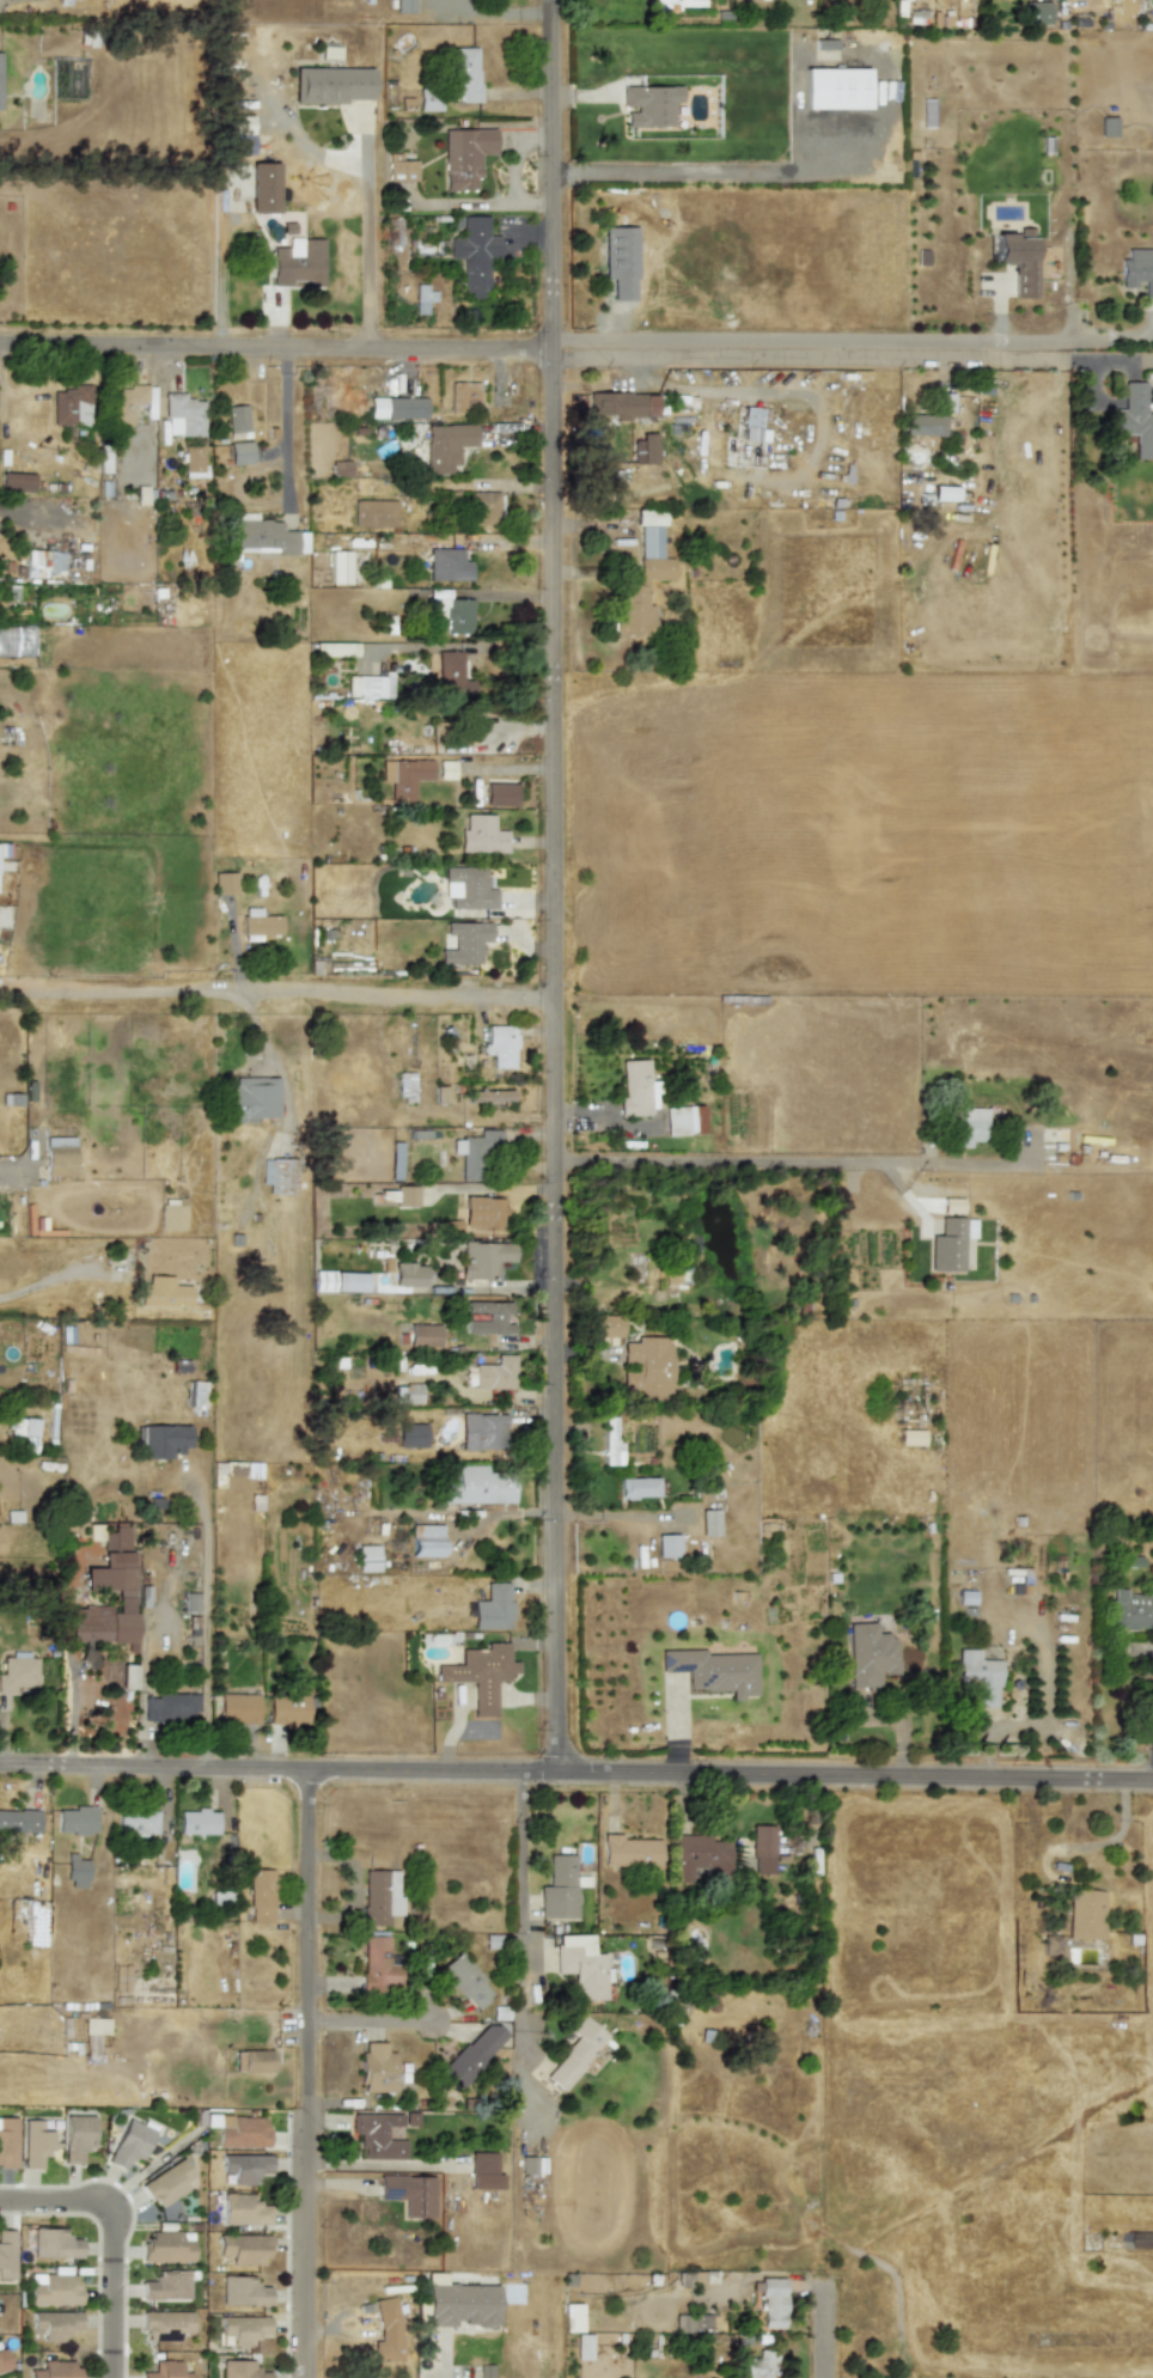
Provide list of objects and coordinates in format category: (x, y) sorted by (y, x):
building: (65, 2)
building: (676, 5)
building: (404, 6)
building: (1036, 12)
road: (494, 13)
building: (464, 74)
building: (331, 85)
building: (835, 89)
building: (0, 90)
building: (428, 102)
building: (649, 105)
building: (927, 112)
building: (239, 133)
building: (464, 156)
building: (399, 169)
road: (706, 175)
building: (263, 188)
building: (475, 254)
road: (362, 257)
building: (299, 262)
building: (1137, 270)
building: (422, 298)
road: (1133, 333)
road: (832, 341)
road: (530, 356)
building: (463, 396)
building: (944, 402)
building: (126, 403)
building: (72, 406)
building: (622, 406)
building: (396, 408)
building: (184, 415)
building: (238, 419)
building: (1135, 420)
building: (754, 425)
building: (923, 425)
road: (289, 431)
building: (447, 445)
building: (642, 450)
building: (240, 453)
building: (194, 462)
building: (340, 469)
building: (16, 481)
building: (944, 493)
road: (33, 506)
building: (484, 508)
building: (374, 513)
building: (266, 536)
building: (44, 563)
building: (447, 565)
building: (340, 567)
building: (643, 577)
building: (455, 612)
building: (335, 648)
building: (452, 676)
building: (371, 685)
road: (508, 768)
building: (404, 776)
building: (500, 794)
building: (482, 835)
building: (4, 849)
building: (224, 883)
road: (561, 884)
building: (469, 888)
building: (258, 925)
building: (465, 943)
road: (281, 1005)
building: (500, 1045)
building: (407, 1086)
building: (635, 1090)
building: (441, 1095)
building: (490, 1097)
building: (251, 1099)
building: (683, 1120)
building: (970, 1126)
building: (476, 1152)
building: (59, 1156)
building: (396, 1160)
road: (733, 1163)
building: (279, 1175)
building: (405, 1196)
building: (952, 1206)
building: (482, 1212)
building: (171, 1214)
building: (950, 1244)
building: (484, 1260)
building: (410, 1274)
building: (671, 1275)
road: (55, 1278)
building: (340, 1281)
building: (163, 1293)
building: (489, 1318)
building: (605, 1325)
building: (423, 1335)
building: (646, 1366)
building: (495, 1374)
building: (195, 1394)
building: (407, 1394)
building: (24, 1431)
building: (483, 1432)
building: (411, 1435)
building: (910, 1437)
building: (160, 1440)
building: (610, 1443)
building: (478, 1487)
building: (637, 1488)
building: (708, 1522)
building: (426, 1539)
building: (666, 1545)
building: (367, 1557)
building: (109, 1579)
building: (966, 1597)
building: (190, 1602)
building: (493, 1608)
building: (1130, 1609)
road: (203, 1623)
building: (870, 1656)
building: (713, 1671)
building: (17, 1673)
building: (481, 1673)
building: (127, 1676)
building: (977, 1678)
building: (172, 1706)
building: (238, 1708)
building: (288, 1709)
road: (576, 1770)
building: (77, 1819)
building: (19, 1821)
building: (136, 1822)
building: (197, 1822)
building: (761, 1849)
building: (629, 1852)
building: (698, 1858)
building: (559, 1889)
road: (520, 1895)
building: (260, 1896)
building: (379, 1897)
building: (1084, 1914)
building: (378, 1965)
building: (581, 1967)
building: (465, 1981)
road: (372, 2020)
building: (96, 2025)
building: (575, 2051)
building: (471, 2054)
building: (251, 2061)
building: (376, 2067)
road: (311, 2073)
building: (239, 2130)
building: (380, 2134)
building: (77, 2136)
building: (7, 2141)
building: (35, 2144)
building: (129, 2144)
building: (244, 2167)
building: (483, 2171)
building: (167, 2183)
building: (408, 2194)
building: (244, 2209)
road: (109, 2237)
building: (54, 2243)
building: (167, 2246)
building: (243, 2249)
building: (6, 2254)
building: (167, 2286)
building: (53, 2289)
building: (243, 2292)
building: (771, 2303)
building: (464, 2305)
road: (832, 2316)
building: (694, 2322)
building: (55, 2324)
building: (166, 2325)
building: (243, 2329)
building: (386, 2330)
building: (582, 2347)
building: (2, 2361)
building: (55, 2370)
building: (239, 2370)

